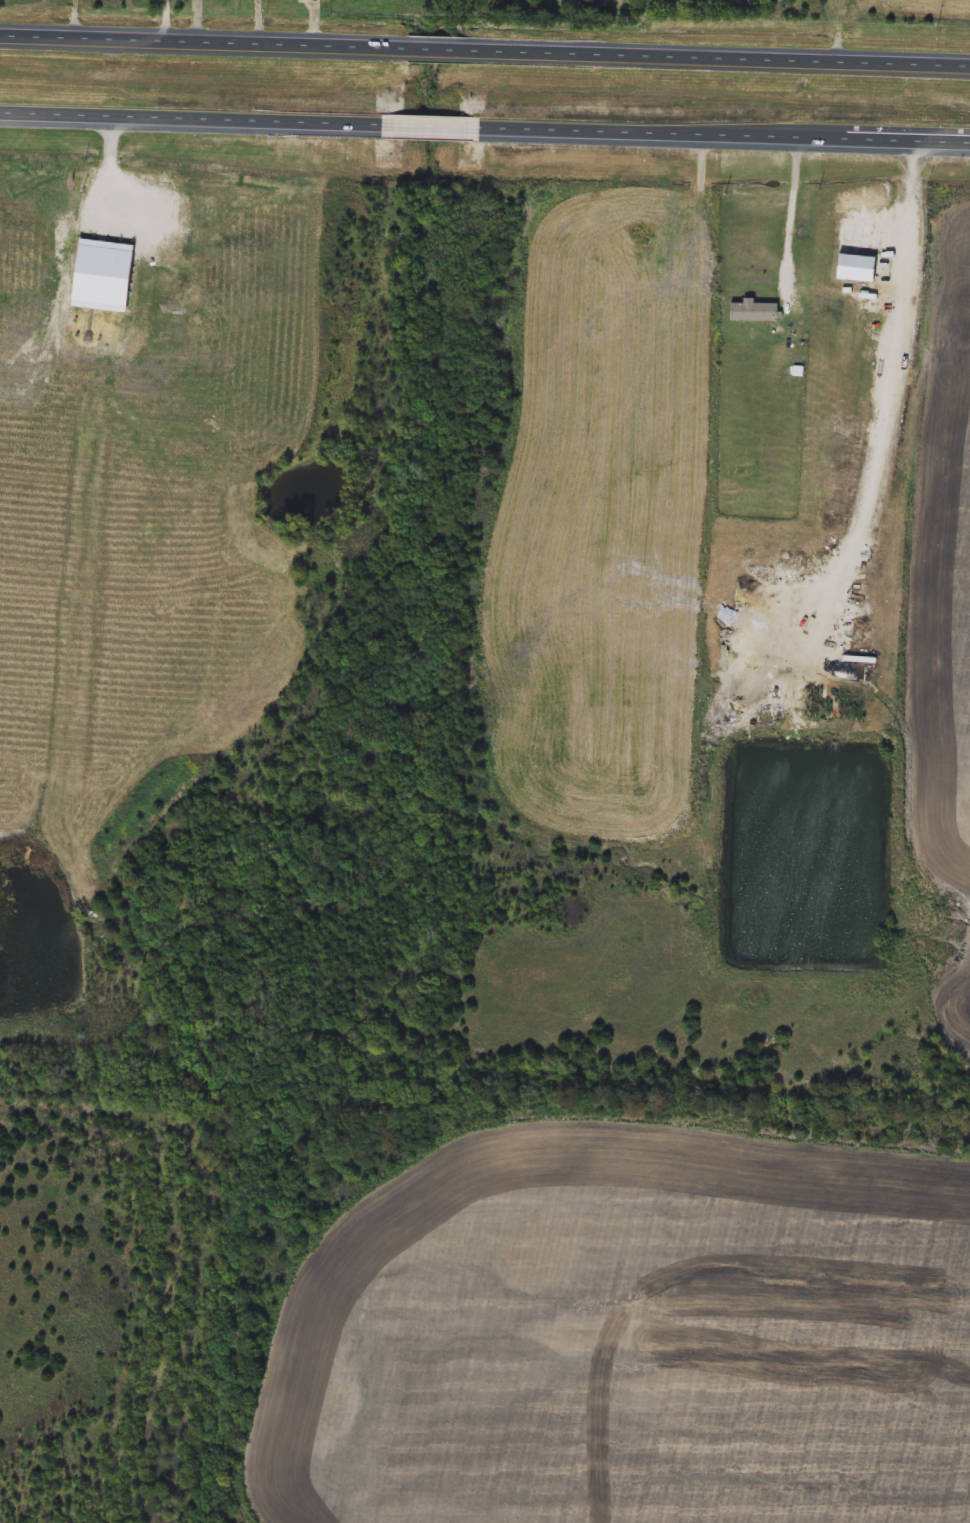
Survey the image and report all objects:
road: (166, 21)
road: (203, 43)
road: (438, 50)
road: (720, 58)
road: (189, 123)
building: (427, 128)
road: (427, 131)
road: (723, 140)
road: (790, 218)
building: (852, 268)
building: (752, 312)
road: (891, 405)

